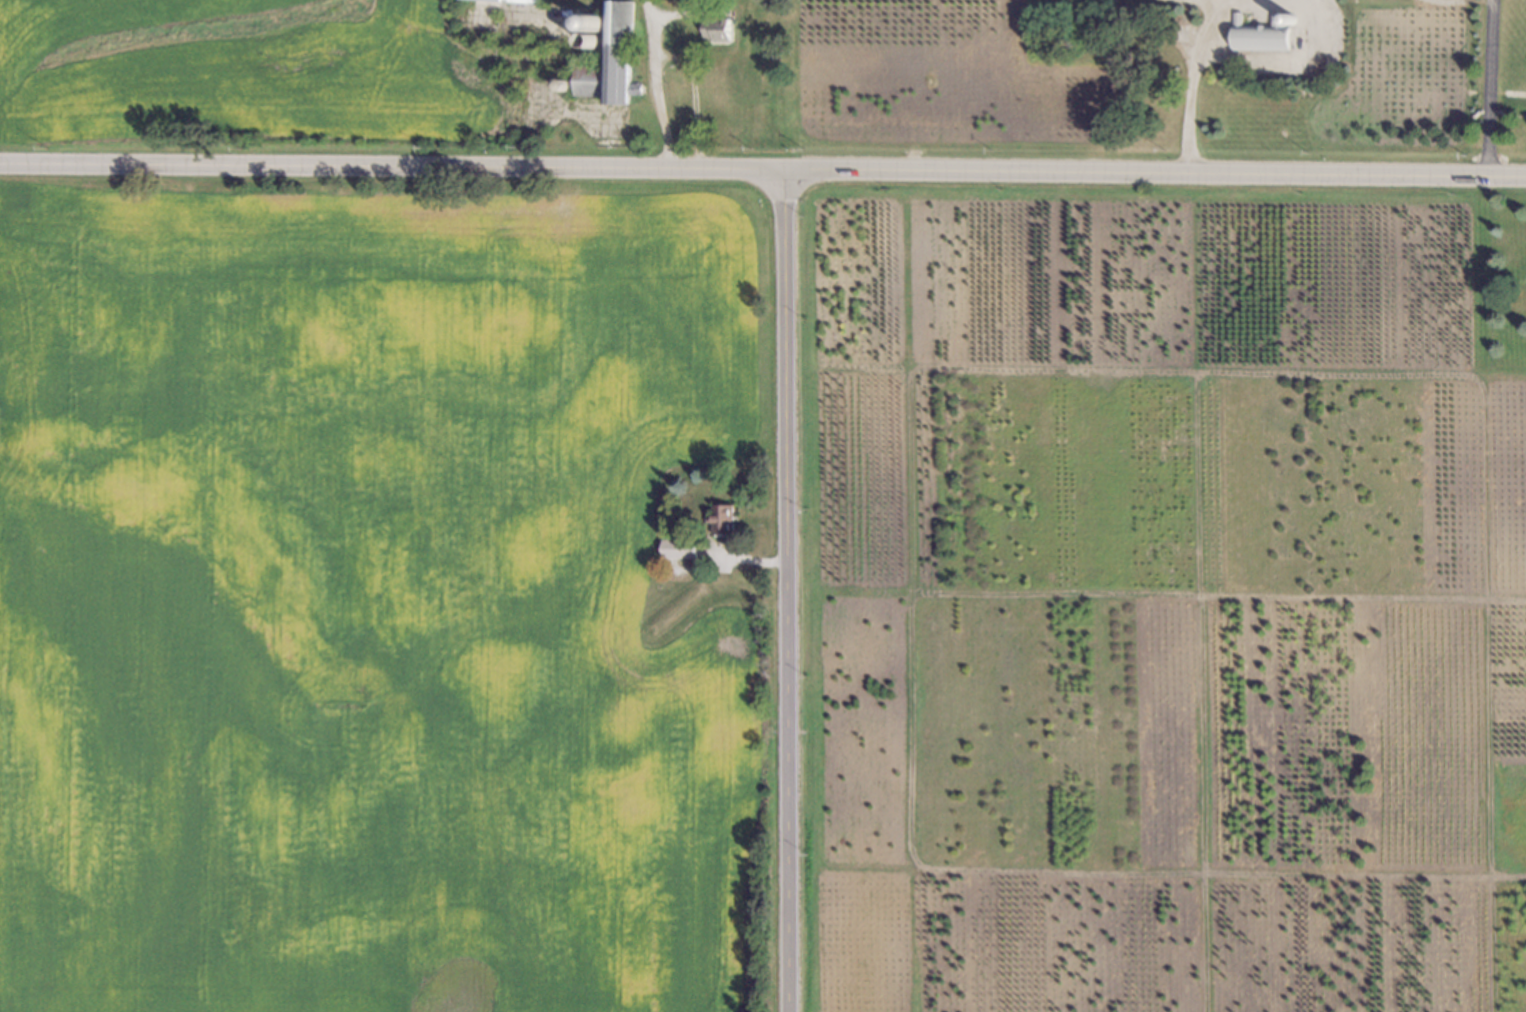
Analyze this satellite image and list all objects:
building: (503, 1)
road: (1445, 2)
building: (590, 23)
building: (714, 28)
building: (1177, 32)
building: (1259, 32)
building: (586, 40)
building: (607, 59)
road: (1193, 70)
building: (741, 73)
building: (557, 84)
road: (650, 85)
road: (1490, 90)
road: (690, 98)
road: (392, 168)
road: (1155, 176)
building: (719, 517)
building: (677, 543)
road: (785, 592)

